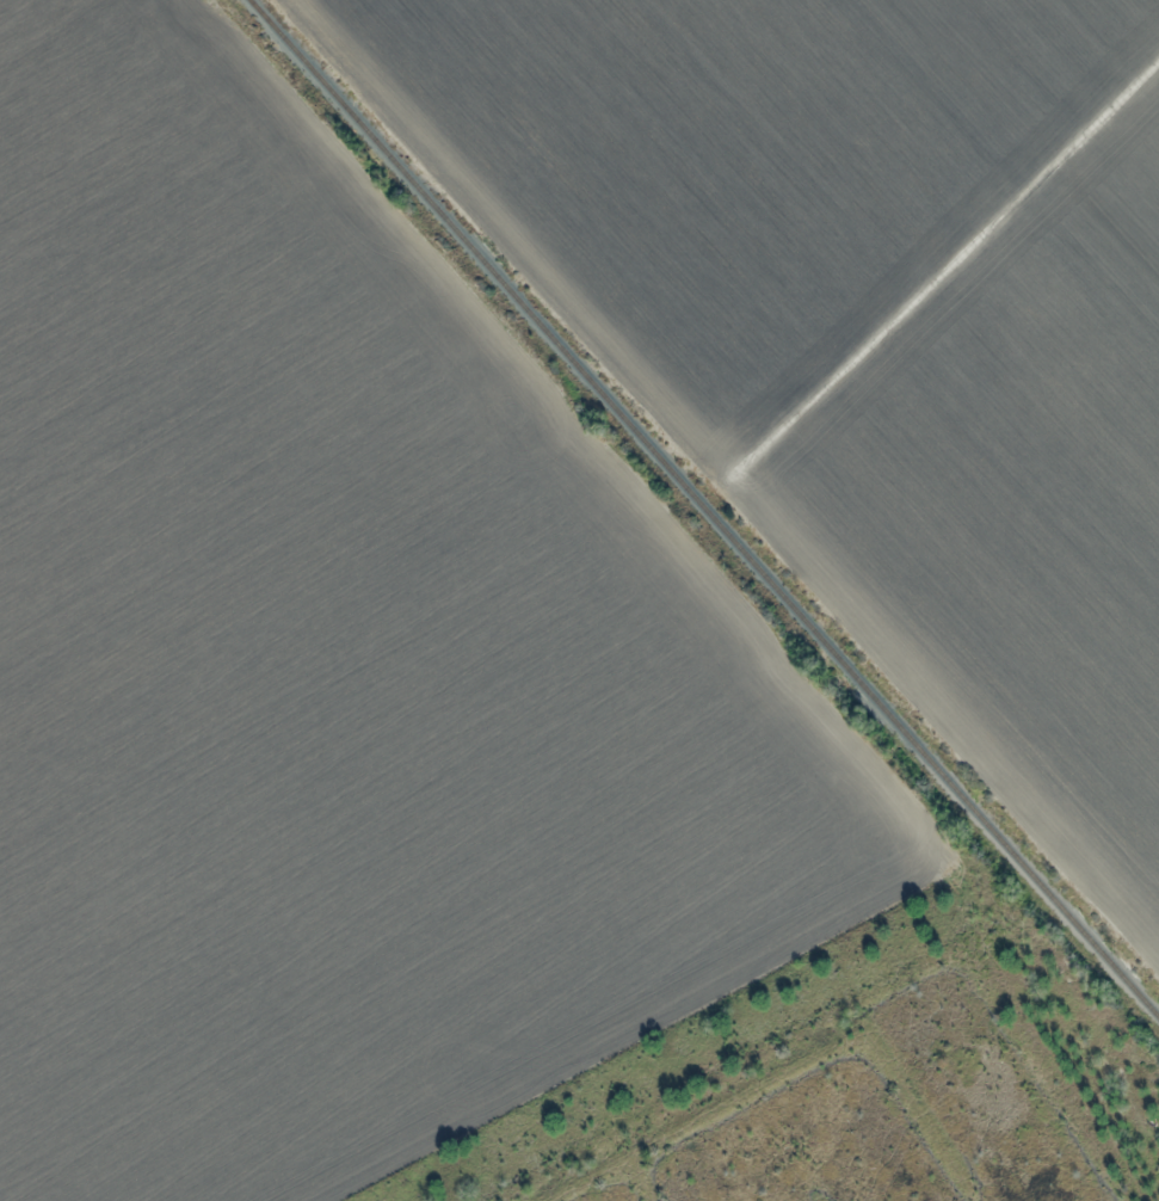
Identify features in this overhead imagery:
railway: (702, 511)

